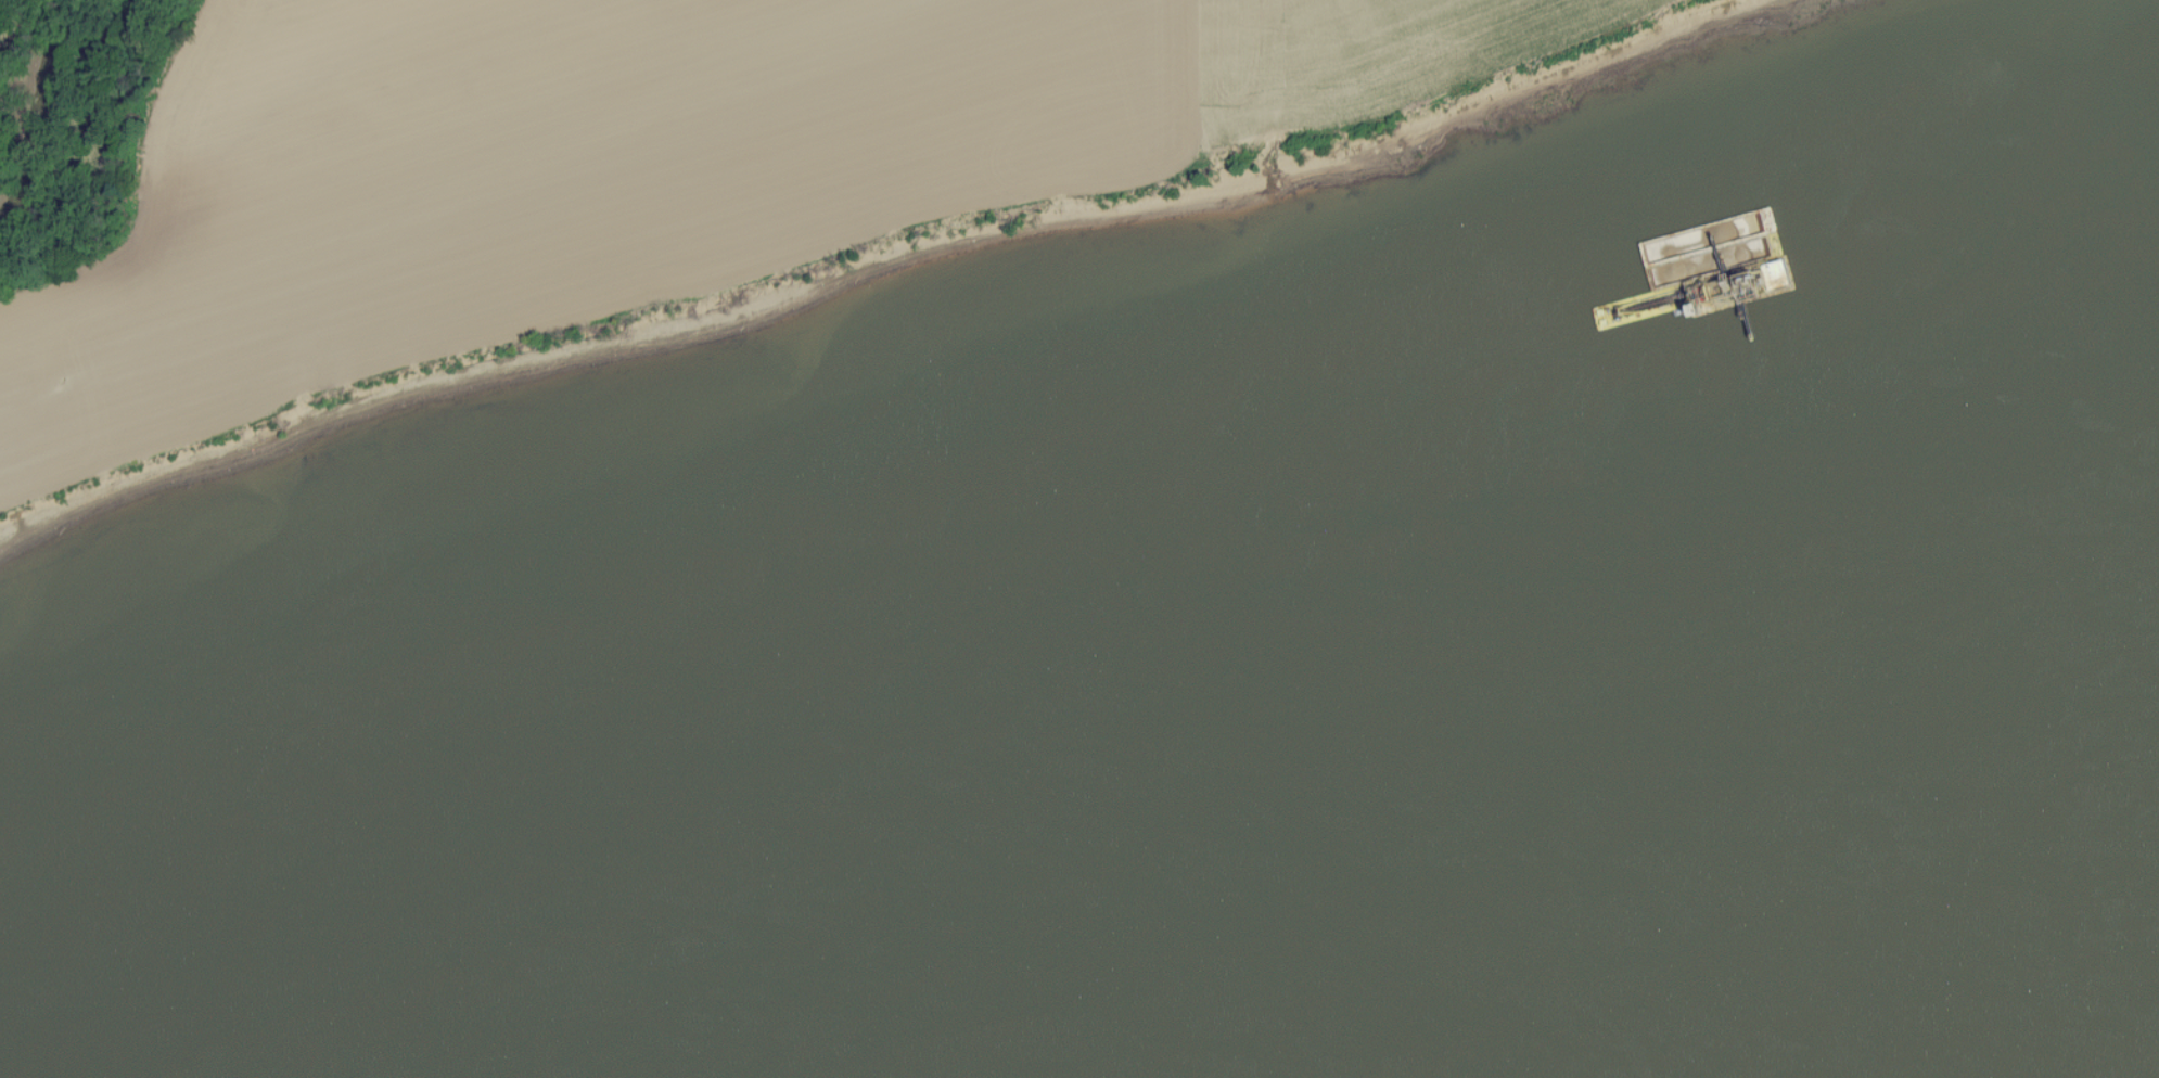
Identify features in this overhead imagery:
river: (1861, 985)

